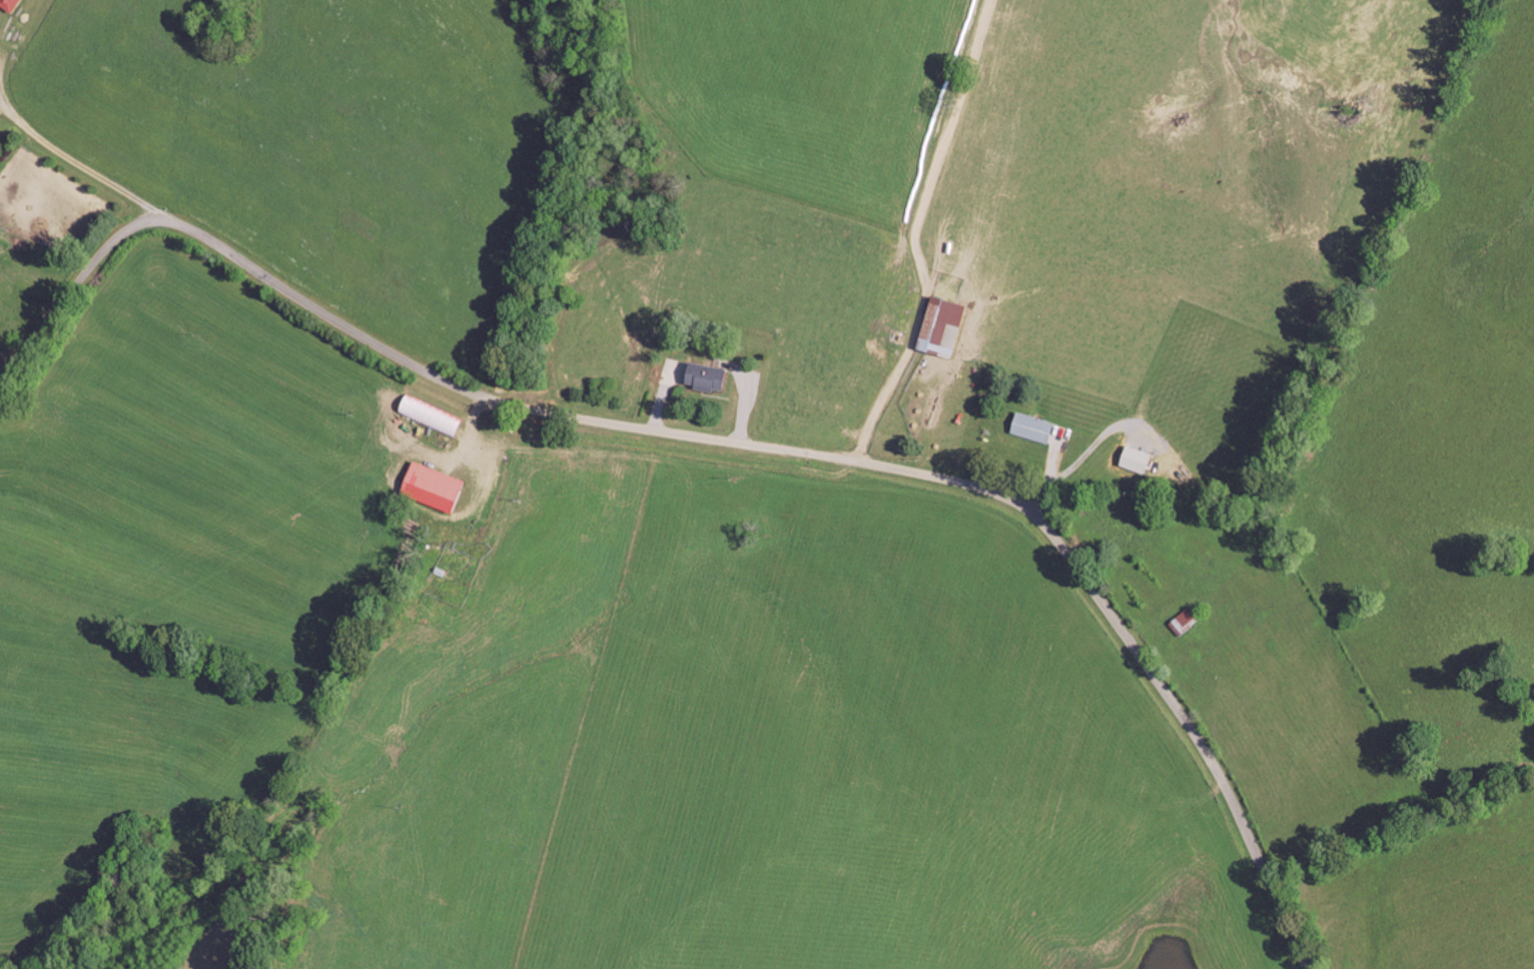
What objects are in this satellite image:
building: (10, 4)
road: (911, 229)
building: (944, 325)
building: (707, 375)
building: (431, 415)
building: (1035, 427)
road: (730, 441)
building: (1137, 459)
road: (1214, 474)
building: (434, 486)
building: (1185, 621)
road: (1317, 795)

